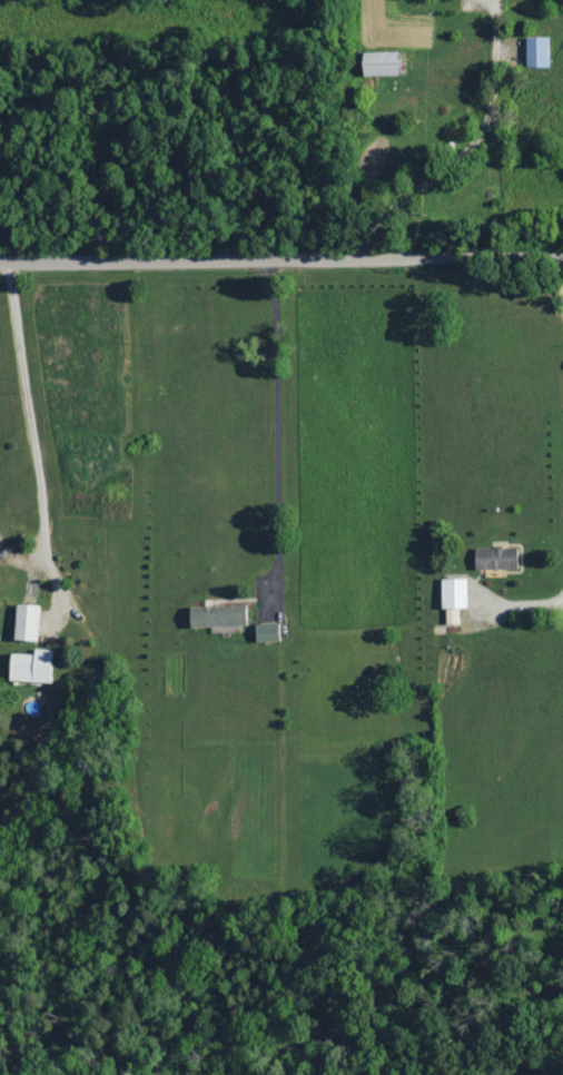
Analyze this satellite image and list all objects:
building: (535, 50)
building: (378, 61)
road: (470, 148)
road: (280, 252)
road: (561, 255)
road: (34, 424)
road: (279, 426)
building: (494, 556)
building: (452, 596)
road: (523, 601)
building: (216, 614)
building: (23, 621)
building: (266, 630)
building: (29, 665)

